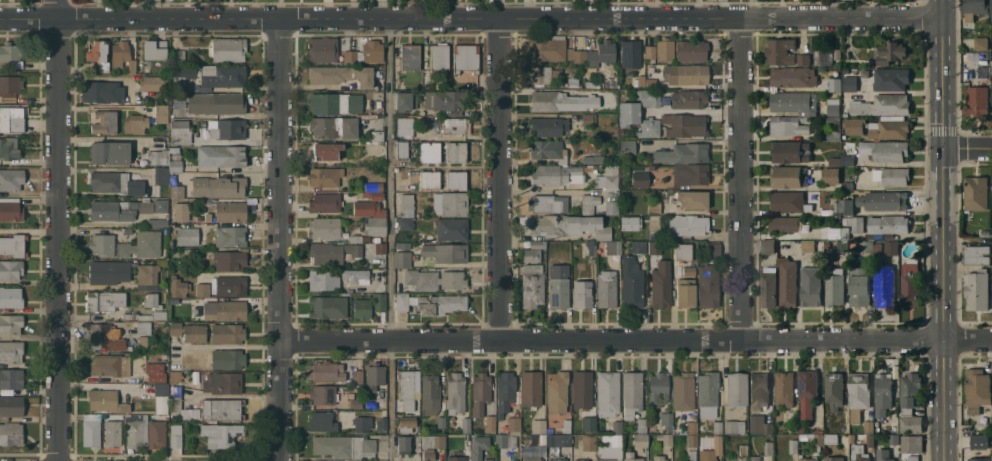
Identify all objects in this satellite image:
road: (60, 8)
road: (837, 8)
building: (974, 8)
building: (991, 13)
road: (469, 16)
building: (981, 43)
building: (547, 48)
building: (155, 49)
building: (227, 49)
building: (323, 49)
building: (665, 49)
building: (691, 50)
building: (372, 51)
building: (780, 51)
building: (631, 53)
building: (893, 53)
building: (12, 54)
building: (98, 54)
building: (599, 54)
building: (651, 54)
building: (837, 54)
building: (576, 55)
building: (122, 56)
building: (177, 56)
building: (351, 56)
building: (410, 56)
building: (439, 56)
building: (823, 56)
building: (465, 58)
building: (803, 59)
building: (991, 68)
building: (985, 73)
building: (341, 74)
building: (542, 74)
building: (686, 74)
building: (182, 75)
building: (223, 76)
building: (381, 76)
building: (793, 76)
building: (891, 79)
building: (573, 81)
building: (639, 81)
building: (650, 81)
building: (153, 82)
building: (850, 83)
building: (11, 84)
building: (591, 84)
building: (835, 84)
building: (439, 85)
building: (102, 91)
building: (165, 95)
building: (173, 95)
building: (649, 97)
building: (688, 99)
building: (448, 100)
building: (403, 101)
building: (562, 101)
building: (978, 101)
building: (794, 102)
building: (215, 103)
building: (335, 103)
building: (882, 105)
building: (833, 109)
road: (700, 110)
building: (369, 111)
building: (377, 111)
building: (844, 112)
building: (162, 113)
building: (628, 113)
building: (589, 118)
building: (11, 119)
building: (833, 121)
building: (104, 122)
building: (432, 122)
building: (135, 124)
building: (684, 124)
building: (453, 125)
building: (854, 125)
building: (334, 126)
building: (549, 126)
building: (789, 126)
building: (407, 127)
building: (227, 128)
building: (649, 128)
building: (890, 128)
building: (180, 131)
building: (376, 135)
building: (831, 135)
road: (100, 138)
building: (627, 147)
building: (8, 148)
road: (966, 148)
building: (402, 149)
building: (549, 150)
building: (327, 151)
building: (890, 151)
building: (110, 152)
building: (430, 152)
building: (456, 152)
building: (791, 152)
building: (173, 153)
building: (683, 153)
building: (221, 155)
building: (159, 156)
building: (595, 159)
building: (848, 160)
building: (834, 161)
road: (30, 162)
building: (176, 165)
building: (347, 168)
building: (161, 174)
building: (690, 174)
building: (555, 175)
building: (325, 176)
building: (789, 176)
building: (831, 176)
building: (892, 176)
building: (607, 177)
building: (11, 179)
building: (429, 179)
building: (456, 179)
road: (499, 179)
building: (640, 179)
road: (741, 179)
building: (116, 183)
building: (853, 185)
building: (219, 186)
building: (374, 186)
building: (177, 191)
building: (976, 193)
building: (372, 195)
building: (9, 199)
building: (692, 199)
building: (883, 201)
building: (325, 202)
building: (451, 202)
building: (789, 202)
building: (548, 203)
building: (588, 203)
building: (161, 205)
building: (406, 205)
building: (848, 206)
building: (611, 207)
building: (654, 207)
building: (368, 208)
building: (113, 210)
building: (11, 211)
building: (181, 211)
building: (231, 211)
building: (630, 222)
building: (157, 223)
building: (406, 223)
building: (855, 223)
building: (784, 224)
building: (889, 224)
building: (375, 225)
building: (570, 225)
building: (687, 225)
building: (324, 228)
building: (452, 229)
road: (940, 230)
building: (834, 232)
building: (846, 233)
building: (985, 233)
building: (187, 236)
building: (231, 236)
road: (279, 236)
road: (59, 238)
building: (359, 238)
road: (390, 238)
building: (376, 239)
building: (536, 244)
building: (13, 245)
building: (126, 245)
building: (404, 246)
building: (568, 246)
building: (700, 246)
building: (712, 246)
building: (768, 246)
building: (808, 246)
building: (843, 246)
building: (866, 246)
building: (378, 247)
building: (613, 247)
building: (638, 247)
building: (653, 247)
building: (591, 248)
building: (891, 248)
building: (877, 249)
building: (682, 251)
building: (192, 252)
building: (446, 252)
building: (333, 253)
building: (977, 254)
building: (531, 255)
building: (564, 256)
building: (402, 259)
building: (230, 260)
building: (817, 261)
building: (165, 263)
building: (11, 269)
building: (689, 270)
building: (124, 273)
building: (333, 278)
building: (434, 279)
building: (631, 282)
building: (788, 282)
building: (911, 283)
building: (228, 285)
building: (532, 285)
building: (708, 285)
building: (811, 286)
building: (835, 286)
building: (860, 286)
building: (884, 286)
building: (177, 287)
building: (768, 288)
building: (606, 289)
building: (661, 289)
building: (977, 289)
building: (203, 290)
building: (558, 292)
building: (685, 292)
building: (582, 294)
building: (10, 297)
building: (104, 301)
building: (152, 301)
building: (432, 303)
building: (369, 305)
building: (328, 307)
building: (225, 310)
building: (159, 315)
building: (136, 316)
building: (10, 324)
building: (144, 328)
building: (175, 329)
building: (194, 333)
building: (227, 333)
building: (106, 338)
road: (967, 338)
road: (609, 340)
building: (142, 341)
road: (228, 345)
building: (11, 351)
building: (227, 359)
building: (109, 367)
building: (326, 371)
building: (160, 373)
building: (358, 376)
building: (374, 377)
building: (11, 379)
building: (175, 383)
building: (222, 383)
building: (785, 388)
building: (153, 389)
building: (406, 389)
building: (582, 389)
building: (658, 389)
building: (736, 389)
building: (358, 390)
building: (531, 390)
building: (759, 390)
building: (834, 390)
building: (977, 390)
building: (557, 391)
building: (683, 391)
building: (808, 391)
building: (505, 392)
building: (910, 392)
building: (455, 393)
building: (480, 393)
building: (607, 393)
building: (631, 393)
building: (883, 393)
building: (323, 394)
building: (430, 394)
building: (708, 394)
building: (859, 394)
building: (106, 401)
building: (356, 401)
building: (175, 404)
building: (10, 407)
building: (222, 409)
building: (441, 421)
building: (322, 422)
building: (667, 422)
building: (361, 423)
building: (382, 423)
building: (406, 423)
building: (490, 423)
building: (514, 424)
building: (591, 424)
building: (912, 424)
building: (466, 425)
building: (642, 425)
building: (760, 425)
building: (566, 426)
building: (730, 426)
building: (616, 427)
building: (717, 427)
building: (869, 427)
building: (689, 428)
building: (802, 429)
building: (91, 430)
building: (114, 430)
building: (136, 430)
building: (549, 430)
building: (156, 431)
building: (11, 433)
building: (221, 434)
building: (852, 436)
building: (803, 437)
building: (666, 438)
building: (831, 438)
building: (467, 439)
building: (539, 439)
building: (894, 439)
building: (506, 440)
building: (563, 440)
building: (692, 440)
building: (819, 440)
building: (870, 440)
building: (175, 441)
building: (433, 441)
building: (640, 441)
building: (980, 441)
building: (589, 443)
building: (403, 444)
building: (912, 444)
building: (345, 446)
building: (793, 446)
building: (610, 447)
building: (480, 448)
building: (769, 448)
building: (743, 449)
building: (626, 453)
building: (712, 453)
building: (859, 453)
building: (428, 454)
building: (692, 454)
building: (884, 455)
building: (912, 457)
building: (456, 458)
building: (531, 458)
building: (557, 458)
building: (658, 458)
building: (755, 458)
building: (834, 458)
building: (633, 459)
building: (807, 459)
building: (978, 459)
building: (332, 460)
building: (513, 460)
building: (582, 460)

